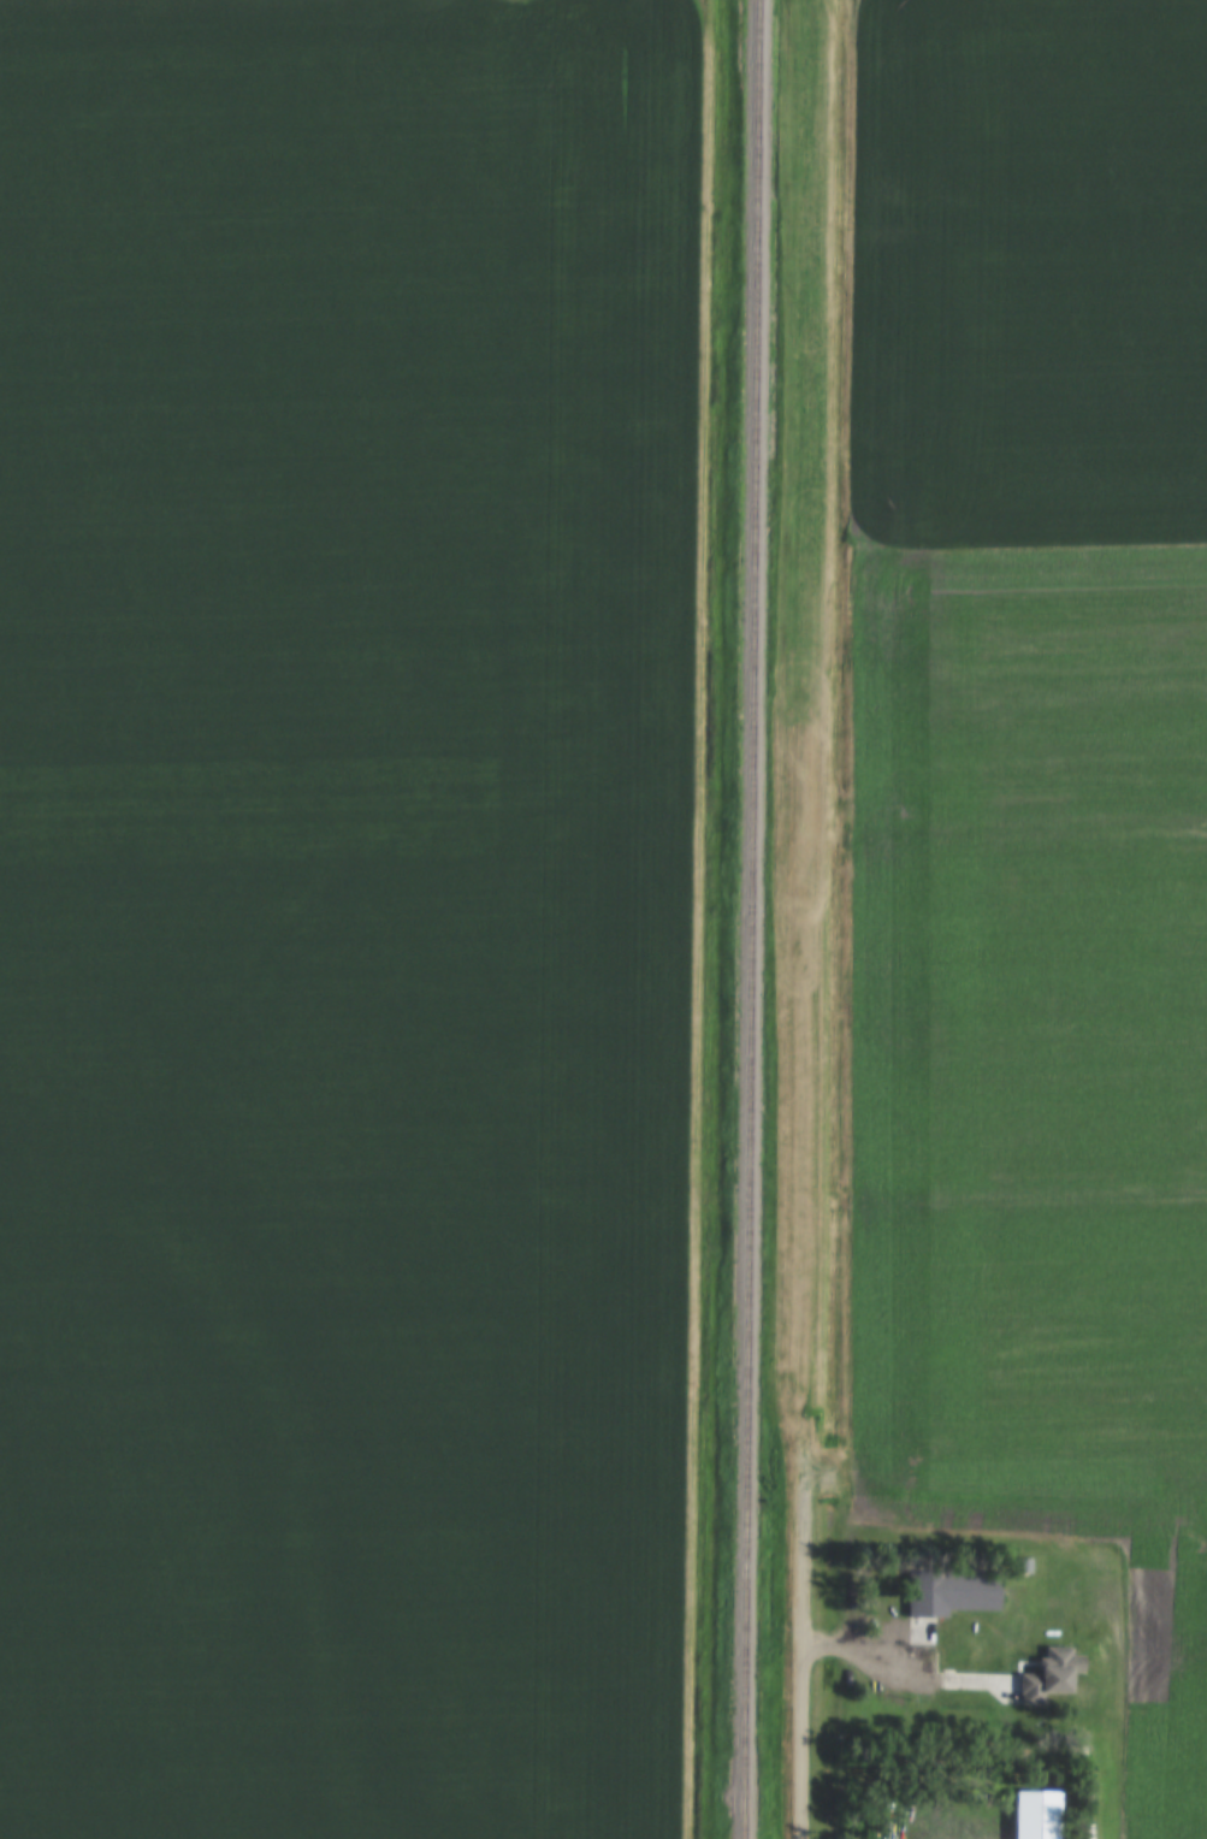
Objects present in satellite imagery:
crop: (1023, 267)
crop: (347, 915)
railway: (747, 918)
crop: (1039, 1077)
building: (953, 1593)
road: (798, 1652)
road: (859, 1655)
building: (955, 1660)

